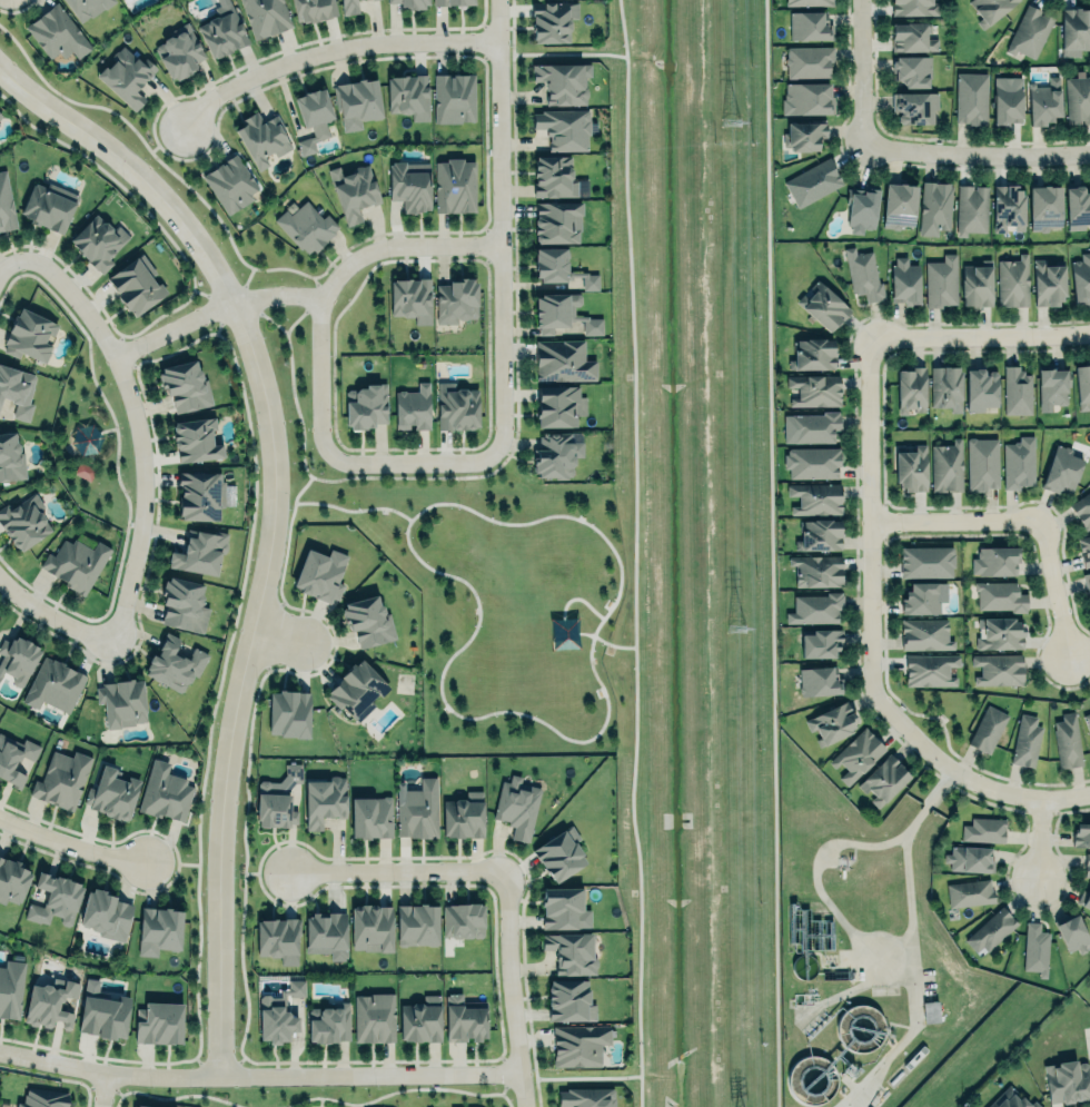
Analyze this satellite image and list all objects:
building: (450, 1)
building: (807, 2)
building: (410, 3)
building: (86, 6)
building: (348, 7)
building: (913, 7)
building: (990, 9)
building: (314, 10)
building: (266, 16)
building: (553, 20)
building: (809, 27)
building: (1076, 28)
building: (222, 30)
building: (1030, 31)
building: (57, 32)
building: (912, 37)
road: (328, 47)
building: (180, 51)
road: (562, 53)
building: (809, 61)
building: (912, 71)
building: (127, 72)
road: (865, 72)
building: (563, 82)
building: (408, 96)
building: (454, 97)
building: (1078, 97)
building: (806, 98)
building: (971, 98)
building: (1007, 100)
building: (357, 101)
building: (1044, 101)
building: (914, 106)
building: (0, 110)
building: (311, 113)
power tower: (730, 123)
building: (564, 128)
building: (803, 136)
building: (262, 139)
road: (157, 144)
road: (978, 155)
building: (554, 177)
building: (453, 182)
building: (813, 182)
building: (230, 184)
building: (410, 185)
building: (353, 191)
building: (6, 204)
building: (899, 205)
building: (1077, 205)
building: (49, 206)
building: (934, 207)
building: (1008, 207)
building: (1044, 207)
building: (862, 208)
building: (972, 209)
building: (557, 221)
building: (306, 225)
road: (499, 226)
building: (97, 238)
road: (10, 254)
building: (552, 265)
building: (863, 274)
road: (335, 278)
building: (1081, 279)
building: (589, 281)
building: (904, 281)
building: (940, 281)
building: (1013, 283)
building: (1048, 283)
building: (977, 284)
building: (137, 285)
building: (409, 295)
building: (455, 296)
road: (218, 302)
building: (823, 306)
building: (561, 307)
road: (979, 333)
building: (30, 335)
building: (813, 354)
building: (562, 360)
building: (185, 382)
building: (947, 386)
building: (1082, 386)
building: (1052, 388)
building: (17, 389)
building: (814, 389)
building: (910, 389)
building: (981, 391)
building: (1017, 391)
building: (559, 405)
building: (366, 406)
building: (413, 407)
building: (456, 407)
road: (136, 424)
building: (814, 426)
building: (196, 439)
building: (558, 455)
road: (416, 456)
building: (11, 458)
building: (812, 462)
building: (1020, 463)
building: (982, 464)
building: (945, 466)
building: (912, 470)
building: (1062, 471)
road: (301, 487)
building: (201, 496)
building: (815, 497)
road: (866, 504)
street lamp: (358, 506)
road: (354, 508)
street lamp: (458, 508)
building: (1082, 510)
road: (271, 516)
building: (23, 518)
road: (1022, 520)
street lamp: (593, 521)
building: (819, 535)
building: (1084, 550)
building: (199, 553)
road: (633, 553)
road: (771, 553)
building: (995, 561)
building: (925, 562)
building: (76, 564)
building: (816, 570)
building: (320, 574)
building: (1086, 580)
building: (1000, 595)
building: (924, 596)
building: (181, 600)
park: (499, 604)
building: (815, 609)
road: (50, 616)
building: (368, 621)
street lamp: (474, 623)
power tower: (736, 629)
building: (999, 633)
road: (279, 634)
building: (924, 634)
building: (820, 643)
road: (612, 644)
street lamp: (595, 650)
building: (18, 659)
building: (174, 664)
building: (999, 669)
building: (930, 670)
building: (817, 681)
building: (53, 685)
building: (357, 690)
building: (121, 702)
building: (288, 713)
street lamp: (496, 716)
building: (1087, 719)
road: (603, 723)
building: (832, 724)
building: (988, 729)
building: (1025, 741)
building: (1067, 741)
building: (856, 754)
building: (14, 759)
road: (957, 772)
building: (61, 779)
building: (883, 780)
building: (165, 792)
building: (112, 794)
building: (277, 800)
building: (324, 800)
building: (517, 805)
building: (418, 810)
building: (465, 816)
building: (370, 817)
building: (983, 830)
building: (1081, 836)
road: (1035, 837)
road: (70, 844)
building: (562, 854)
building: (970, 860)
road: (181, 862)
building: (1087, 864)
road: (397, 869)
road: (255, 872)
building: (11, 880)
building: (969, 892)
building: (1084, 899)
building: (54, 900)
building: (564, 909)
building: (106, 915)
building: (416, 920)
building: (463, 921)
building: (371, 928)
building: (990, 929)
building: (159, 930)
building: (326, 933)
building: (1072, 935)
building: (278, 939)
building: (1035, 949)
building: (572, 953)
building: (10, 985)
road: (509, 987)
building: (569, 1000)
building: (49, 1002)
building: (930, 1011)
building: (105, 1017)
building: (375, 1018)
building: (465, 1019)
building: (420, 1021)
building: (274, 1022)
building: (159, 1024)
building: (328, 1025)
building: (578, 1045)
road: (258, 1075)
road: (579, 1077)
building: (1068, 1081)
road: (99, 1088)
road: (323, 1090)
building: (586, 1096)
building: (43, 1098)
building: (1010, 1099)
building: (149, 1105)

